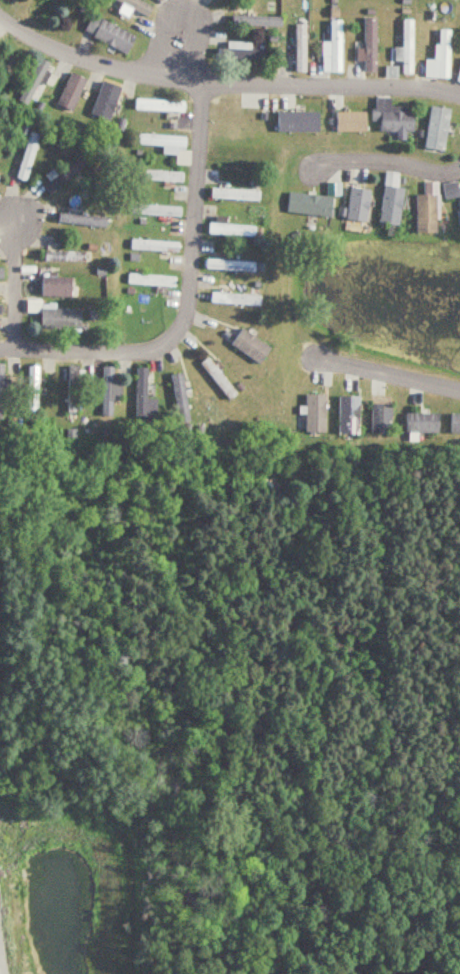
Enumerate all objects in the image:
building: (134, 5)
building: (252, 21)
building: (106, 34)
building: (367, 46)
building: (404, 49)
building: (329, 50)
road: (173, 52)
building: (237, 52)
building: (436, 58)
building: (457, 74)
building: (31, 82)
road: (223, 85)
building: (102, 101)
building: (156, 106)
building: (388, 118)
building: (293, 122)
building: (346, 123)
building: (433, 130)
building: (165, 146)
building: (25, 156)
road: (382, 162)
building: (62, 175)
building: (158, 176)
building: (230, 195)
building: (304, 205)
building: (353, 206)
building: (387, 207)
building: (152, 211)
building: (423, 211)
building: (78, 220)
building: (226, 230)
building: (151, 246)
building: (62, 257)
building: (225, 266)
road: (16, 278)
building: (148, 281)
building: (59, 287)
road: (186, 300)
building: (230, 300)
building: (54, 317)
building: (245, 346)
road: (386, 375)
building: (214, 378)
building: (29, 389)
building: (71, 389)
building: (106, 391)
building: (140, 396)
building: (176, 398)
building: (311, 414)
building: (344, 414)
building: (377, 419)
building: (419, 422)
building: (453, 424)

